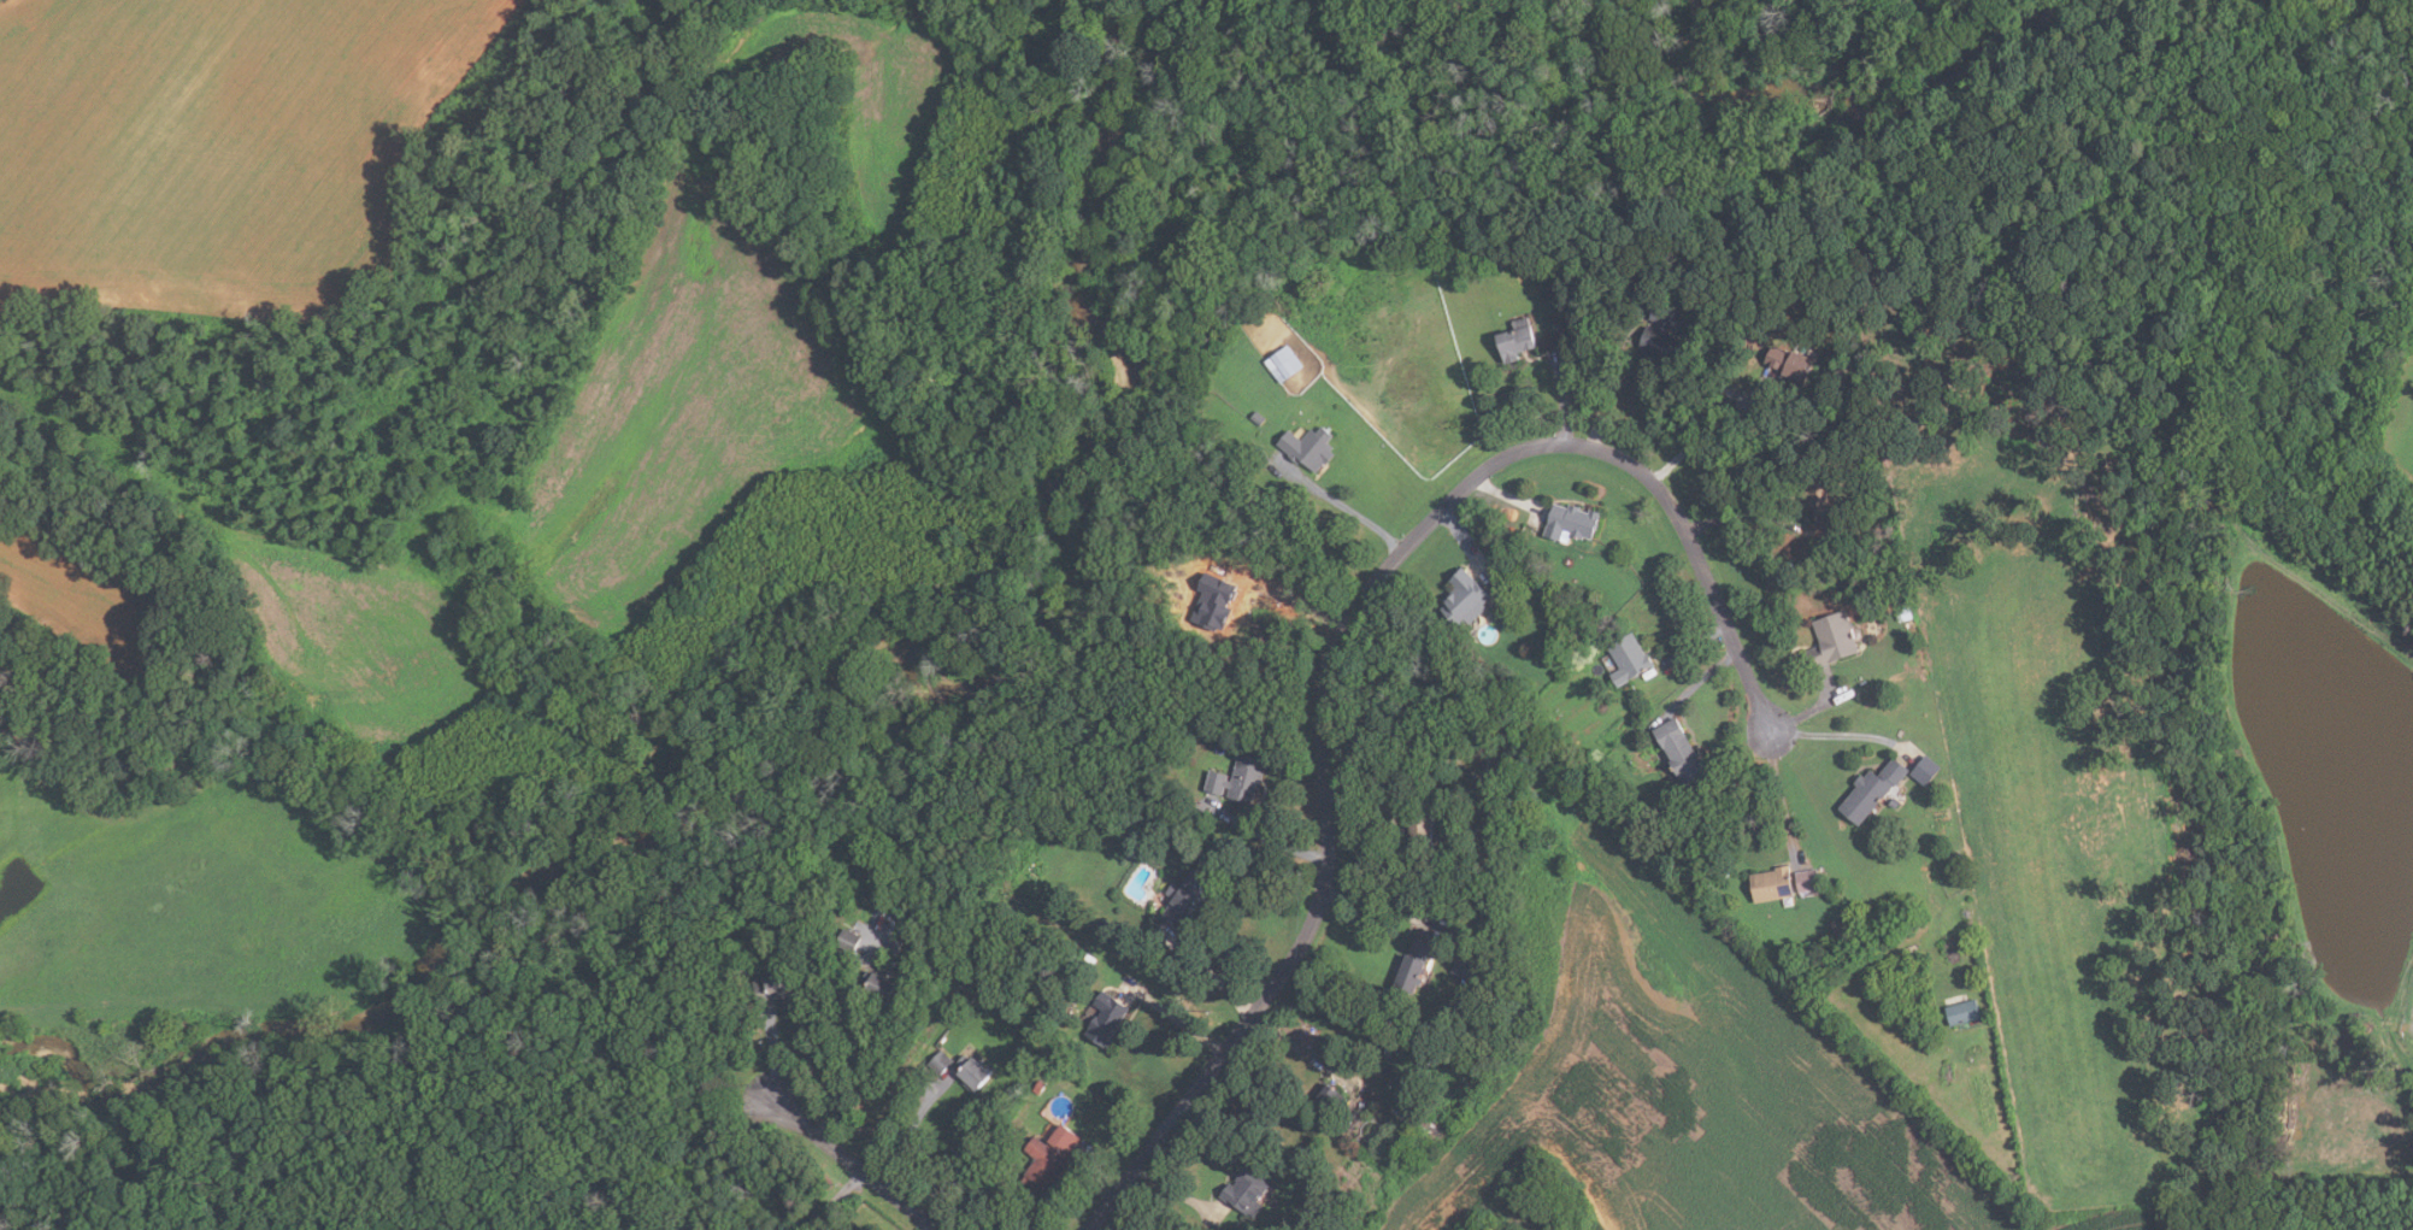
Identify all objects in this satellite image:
building: (1664, 337)
building: (1514, 340)
building: (1852, 355)
building: (1282, 364)
building: (1790, 366)
building: (1842, 370)
building: (1855, 373)
road: (1614, 376)
road: (1564, 395)
building: (1255, 418)
road: (1702, 432)
building: (1307, 448)
road: (1505, 494)
building: (1818, 494)
road: (1346, 506)
road: (1736, 516)
building: (1570, 520)
road: (1458, 531)
building: (1462, 596)
building: (1214, 600)
road: (1288, 600)
road: (1343, 631)
building: (1832, 640)
building: (1628, 658)
road: (1705, 679)
road: (1811, 710)
road: (1830, 736)
building: (1681, 753)
building: (1238, 777)
building: (1870, 789)
road: (1781, 793)
building: (1893, 800)
building: (1148, 826)
building: (1417, 829)
road: (1263, 838)
building: (1807, 879)
building: (1770, 883)
building: (1185, 898)
road: (1378, 906)
building: (1838, 926)
building: (846, 941)
building: (894, 948)
building: (1409, 964)
building: (1464, 967)
road: (1206, 972)
building: (876, 985)
building: (771, 987)
building: (1962, 1011)
road: (1173, 1014)
building: (1103, 1019)
building: (1473, 1022)
road: (840, 1036)
road: (1299, 1048)
road: (775, 1059)
building: (938, 1061)
building: (971, 1072)
building: (1036, 1087)
building: (1326, 1100)
road: (910, 1131)
building: (1401, 1144)
building: (1367, 1150)
building: (1047, 1159)
road: (852, 1166)
road: (1097, 1175)
road: (1173, 1190)
building: (1243, 1190)
road: (834, 1201)
road: (1114, 1220)

